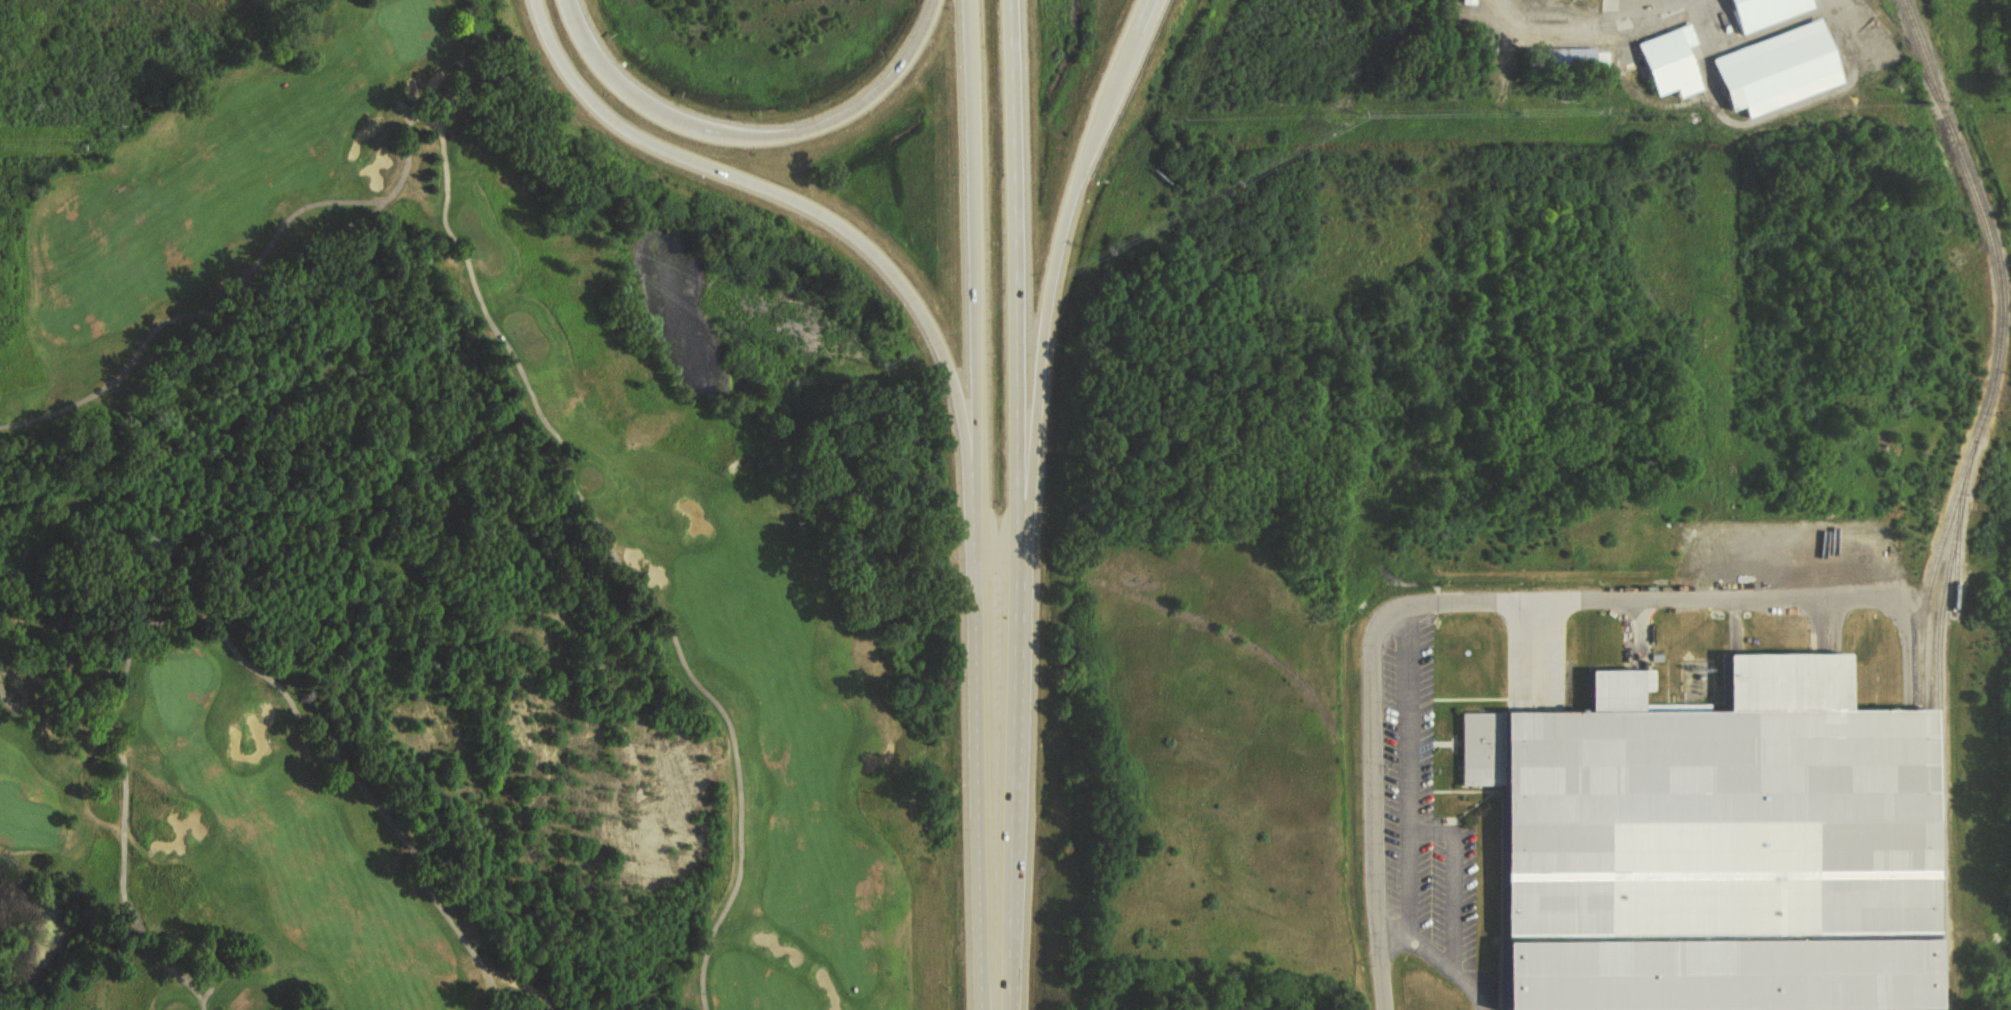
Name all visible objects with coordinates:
building: (1469, 2)
road: (1144, 10)
building: (1768, 11)
road: (1590, 17)
park: (413, 28)
railway: (1915, 58)
building: (1573, 59)
building: (1672, 64)
building: (1781, 69)
railway: (1946, 114)
road: (749, 138)
road: (807, 210)
road: (1062, 241)
road: (485, 310)
road: (982, 505)
road: (1026, 505)
railway: (1957, 562)
park: (424, 576)
road: (1473, 597)
railway: (1925, 612)
road: (210, 620)
road: (14, 676)
road: (14, 703)
railway: (1940, 730)
road: (1411, 768)
building: (1721, 846)
road: (1454, 878)
road: (1413, 936)
road: (203, 978)
railway: (1923, 1008)

